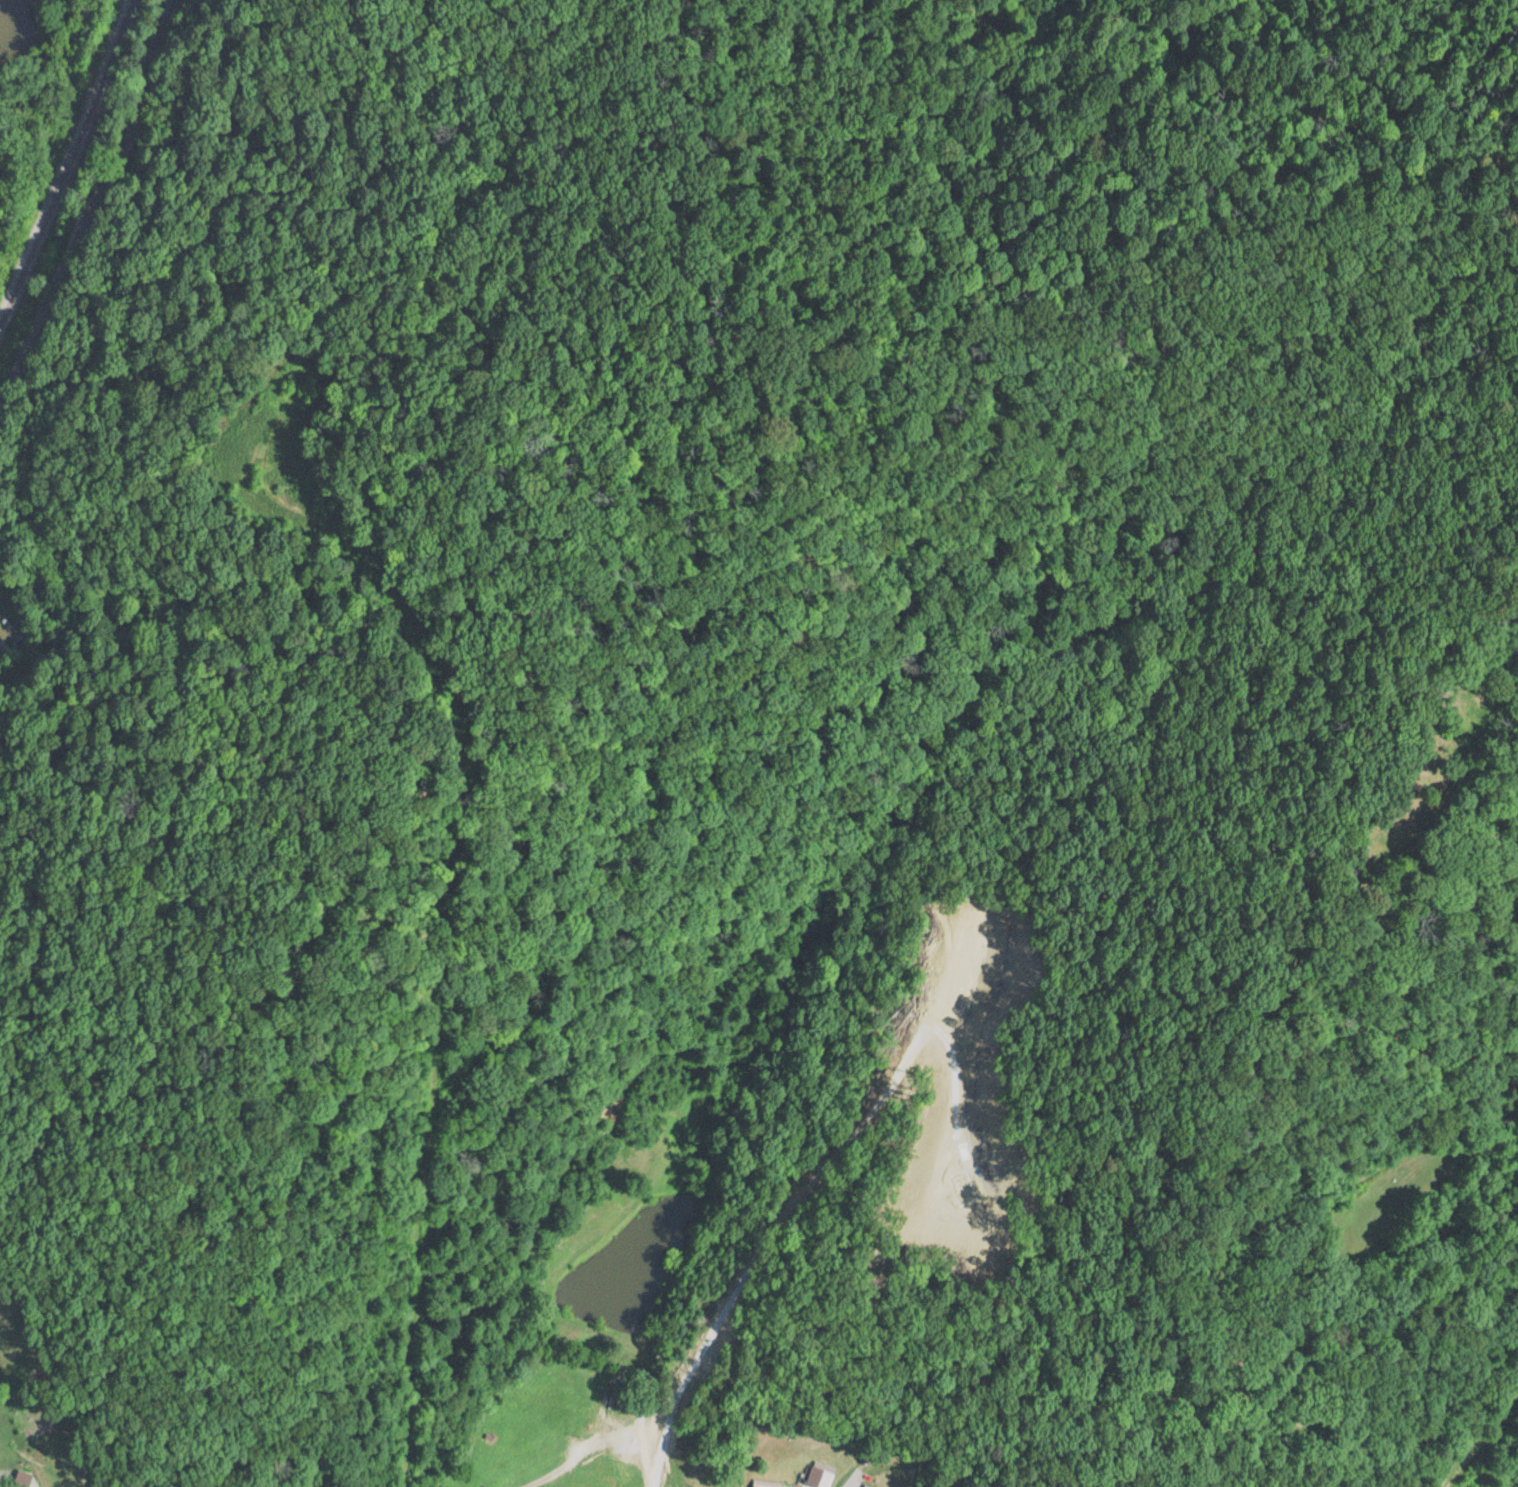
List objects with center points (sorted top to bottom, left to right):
railway: (43, 161)
road: (119, 205)
building: (816, 1477)
building: (21, 1483)
building: (764, 1483)
building: (864, 1486)

